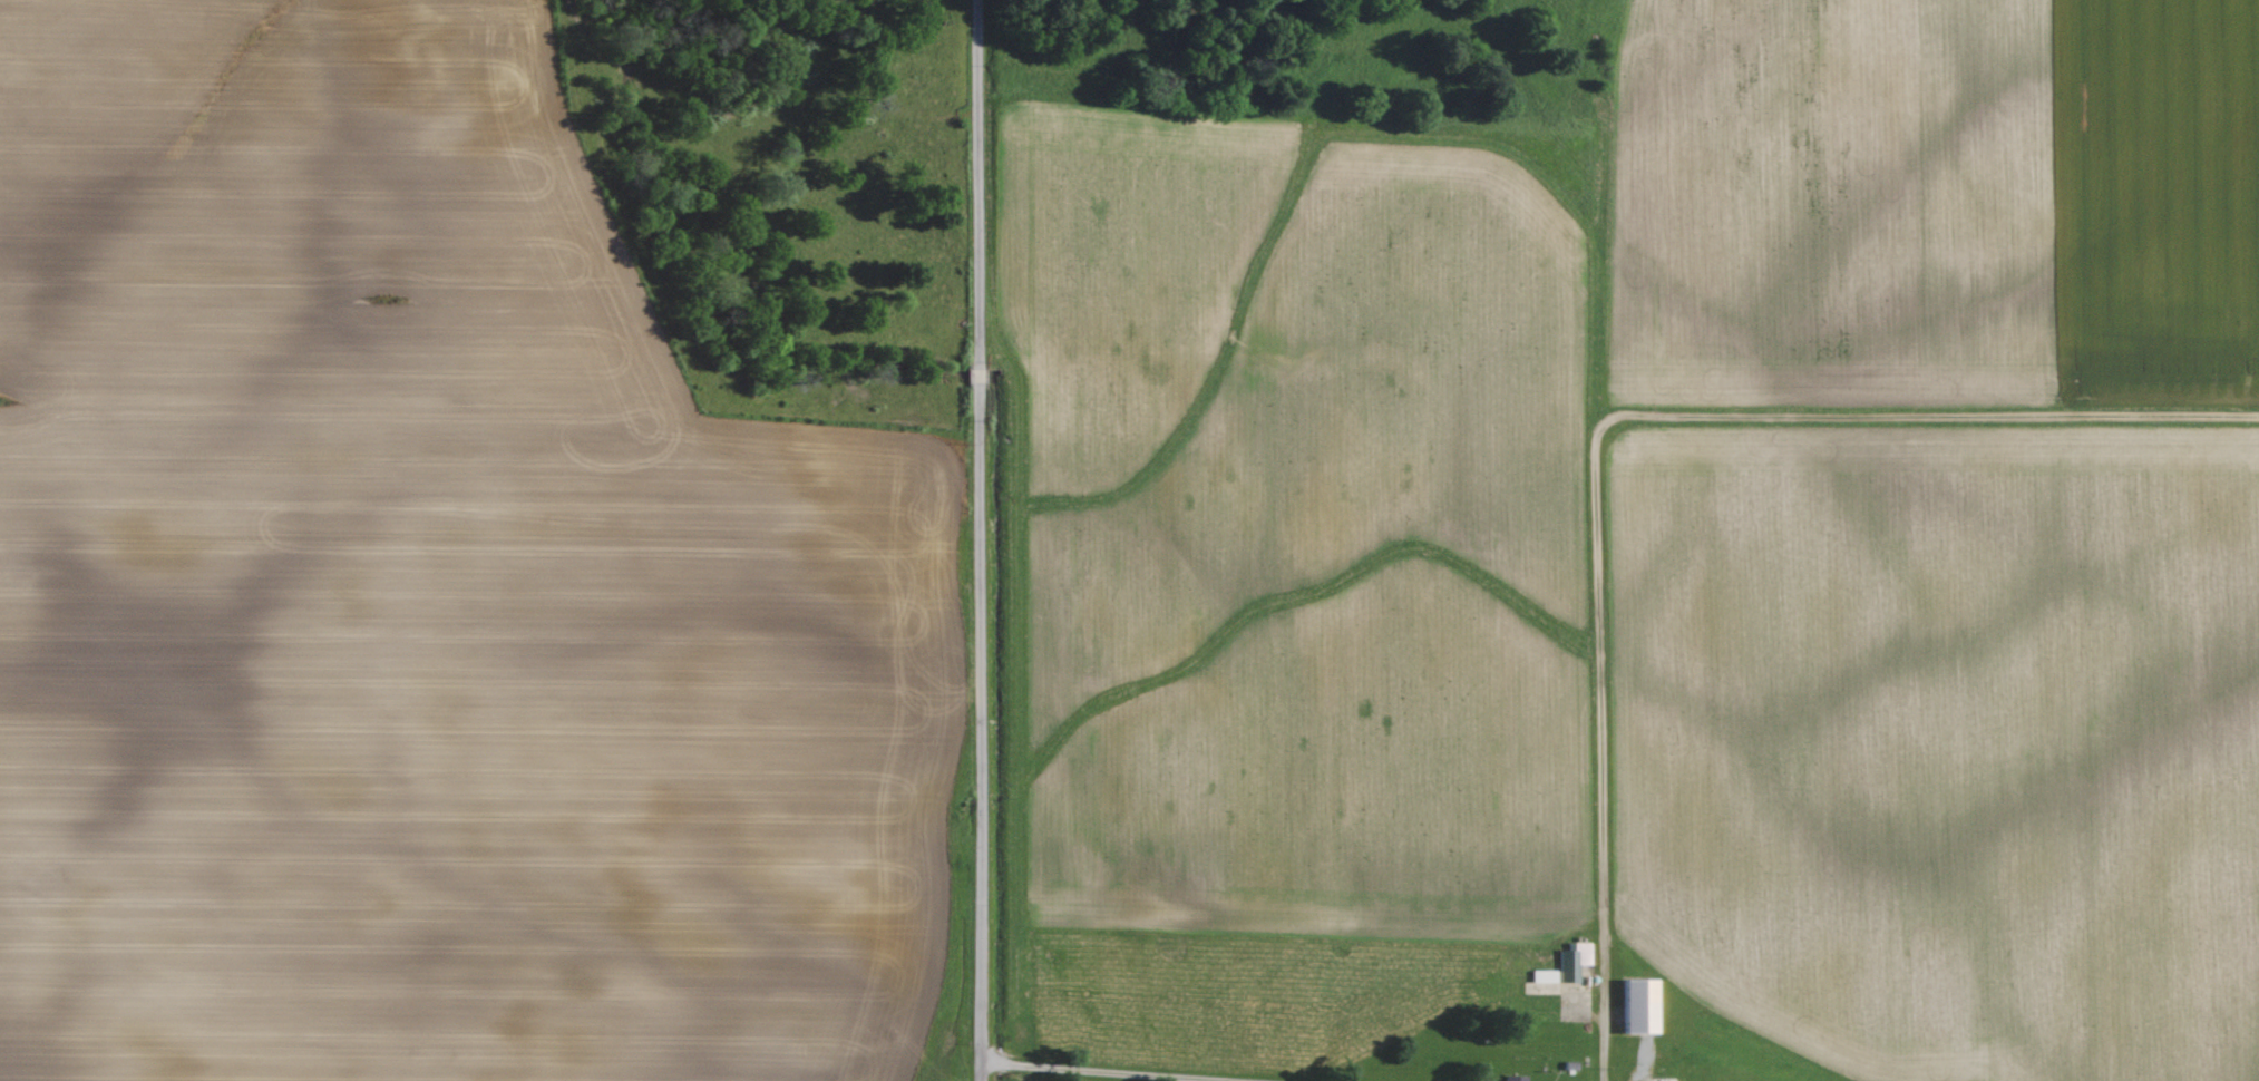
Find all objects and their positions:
road: (977, 182)
road: (978, 374)
road: (1674, 410)
road: (980, 733)
building: (1560, 967)
road: (1605, 1005)
building: (1633, 1009)
road: (1122, 1070)
building: (1508, 1079)

